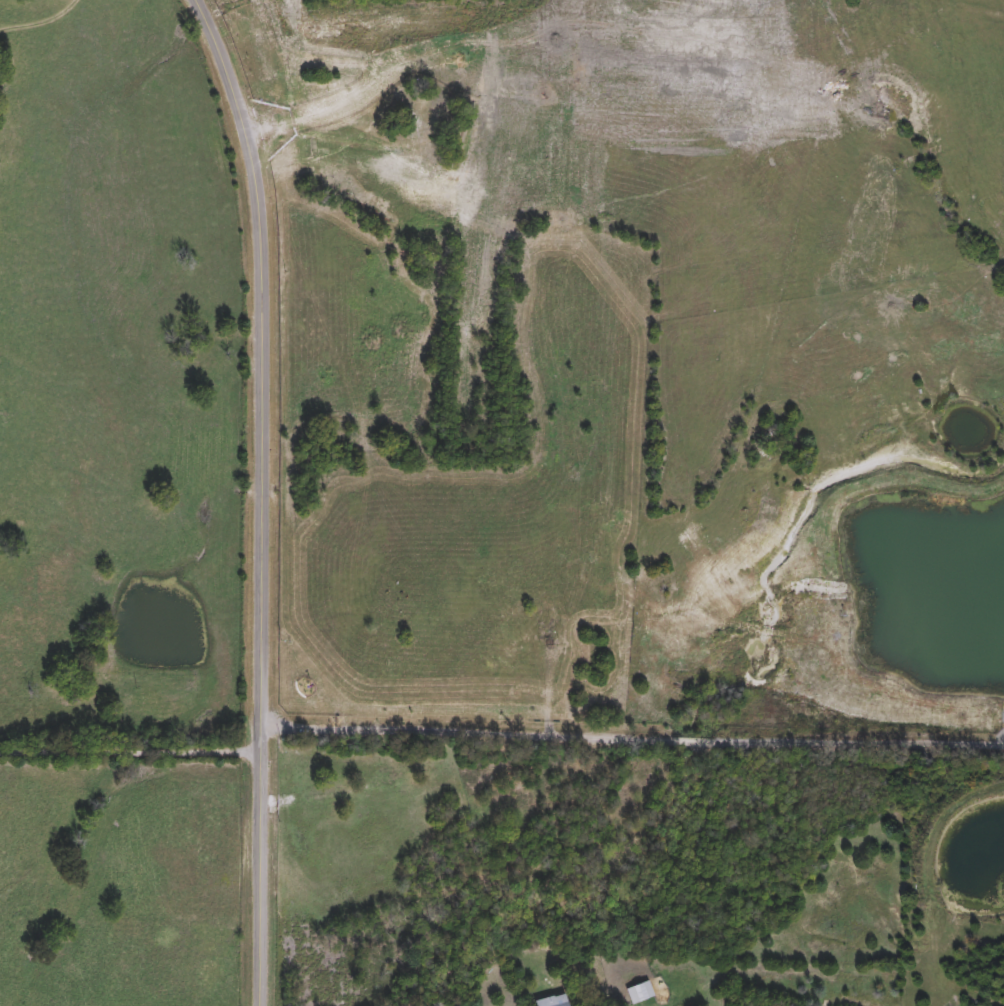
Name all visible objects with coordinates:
road: (260, 497)
road: (631, 743)
road: (130, 755)
building: (640, 993)
building: (554, 1001)

